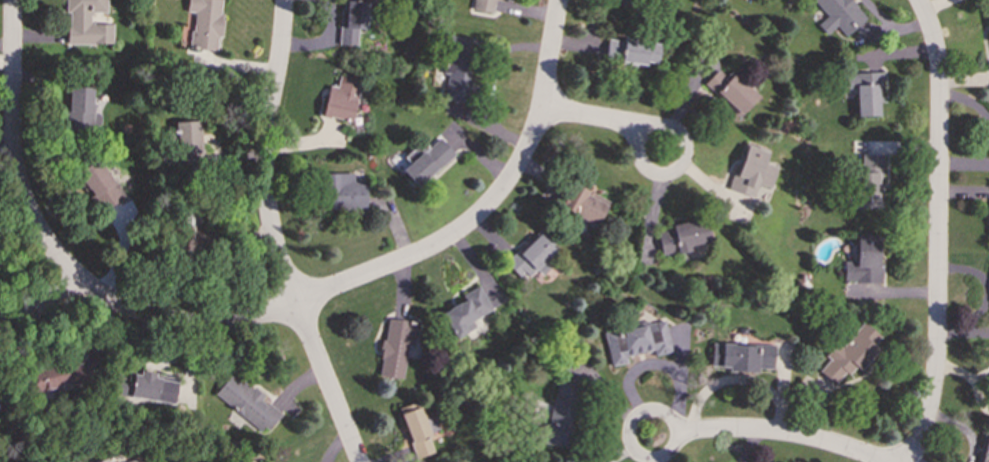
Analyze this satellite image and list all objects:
building: (483, 5)
building: (838, 15)
building: (988, 17)
building: (351, 22)
building: (86, 23)
building: (205, 23)
building: (631, 52)
building: (460, 69)
building: (730, 90)
building: (864, 91)
building: (340, 99)
building: (80, 109)
road: (583, 116)
building: (185, 140)
building: (425, 161)
road: (681, 166)
building: (751, 171)
building: (867, 182)
building: (99, 185)
building: (343, 192)
road: (488, 203)
building: (583, 204)
road: (937, 231)
building: (681, 236)
road: (273, 237)
road: (54, 254)
building: (531, 257)
building: (863, 261)
road: (50, 299)
building: (465, 310)
road: (12, 319)
building: (635, 341)
building: (395, 347)
building: (849, 353)
building: (741, 357)
building: (58, 376)
building: (153, 386)
building: (246, 403)
building: (560, 413)
building: (416, 429)
road: (779, 433)
building: (984, 450)
road: (642, 459)
building: (102, 460)
building: (137, 460)

